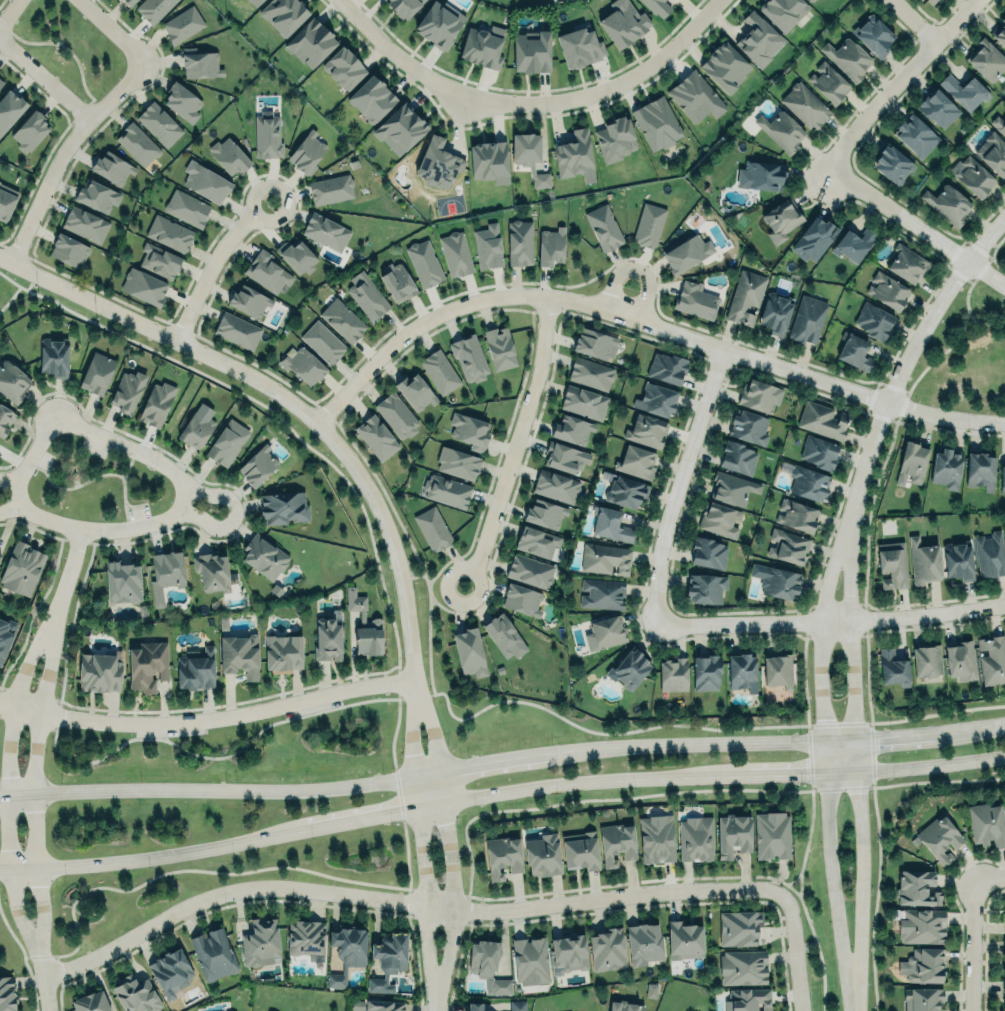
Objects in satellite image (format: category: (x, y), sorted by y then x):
building: (811, 0)
building: (129, 1)
building: (930, 1)
building: (254, 2)
building: (402, 6)
building: (657, 6)
building: (153, 8)
building: (782, 11)
road: (9, 13)
building: (283, 13)
building: (623, 22)
road: (906, 23)
building: (182, 24)
building: (439, 24)
road: (112, 31)
building: (999, 31)
building: (873, 35)
building: (758, 39)
building: (310, 41)
building: (579, 44)
building: (483, 45)
building: (531, 50)
building: (847, 56)
road: (399, 57)
building: (986, 59)
building: (200, 63)
building: (725, 65)
building: (343, 66)
road: (45, 78)
road: (897, 80)
building: (828, 81)
building: (1, 82)
road: (609, 86)
building: (964, 89)
building: (695, 96)
building: (370, 97)
building: (182, 101)
building: (804, 104)
building: (9, 107)
building: (937, 107)
building: (657, 122)
building: (998, 123)
building: (159, 124)
building: (29, 129)
building: (400, 129)
building: (780, 129)
building: (267, 134)
building: (915, 135)
building: (615, 138)
building: (138, 143)
road: (62, 150)
building: (306, 151)
building: (993, 151)
building: (229, 153)
building: (575, 155)
building: (530, 157)
building: (437, 161)
building: (489, 161)
building: (891, 163)
building: (112, 167)
building: (761, 174)
building: (973, 176)
building: (205, 181)
building: (331, 189)
building: (97, 195)
building: (6, 200)
building: (947, 202)
building: (187, 207)
building: (781, 220)
building: (85, 223)
road: (912, 223)
building: (648, 224)
building: (604, 227)
building: (325, 231)
building: (169, 232)
building: (813, 238)
building: (520, 242)
building: (852, 243)
building: (488, 245)
building: (550, 245)
building: (69, 250)
building: (686, 252)
building: (455, 254)
building: (297, 255)
building: (160, 259)
building: (424, 262)
building: (907, 263)
road: (214, 264)
building: (267, 270)
road: (636, 270)
building: (397, 281)
building: (143, 285)
road: (18, 287)
building: (887, 290)
building: (744, 296)
building: (367, 297)
building: (695, 299)
building: (248, 300)
building: (774, 312)
building: (806, 318)
building: (342, 319)
road: (644, 319)
building: (873, 320)
building: (236, 329)
building: (322, 340)
building: (595, 342)
building: (500, 347)
building: (853, 350)
park: (966, 354)
road: (907, 355)
building: (469, 357)
building: (54, 358)
building: (303, 364)
building: (666, 367)
building: (440, 371)
building: (97, 372)
building: (590, 373)
building: (12, 381)
building: (127, 389)
building: (415, 391)
building: (758, 394)
road: (286, 399)
building: (656, 399)
building: (584, 401)
building: (156, 403)
building: (396, 414)
building: (5, 418)
building: (822, 419)
building: (748, 426)
building: (195, 428)
building: (572, 428)
building: (646, 429)
building: (469, 430)
road: (86, 431)
building: (376, 436)
building: (227, 441)
road: (515, 444)
building: (817, 449)
building: (565, 456)
building: (736, 456)
building: (911, 460)
building: (636, 461)
building: (457, 462)
building: (257, 465)
building: (946, 467)
building: (979, 467)
road: (8, 478)
building: (1002, 478)
building: (808, 482)
building: (555, 485)
road: (678, 485)
building: (731, 487)
building: (446, 490)
building: (625, 491)
road: (208, 494)
building: (283, 507)
road: (10, 508)
building: (544, 512)
building: (796, 515)
building: (718, 518)
road: (202, 520)
building: (610, 524)
building: (1004, 525)
building: (432, 528)
road: (97, 529)
building: (536, 540)
building: (788, 545)
building: (708, 553)
building: (989, 554)
building: (1, 555)
building: (264, 557)
building: (605, 558)
building: (958, 560)
building: (923, 561)
building: (891, 565)
building: (21, 568)
building: (211, 570)
building: (530, 571)
building: (165, 574)
road: (66, 576)
building: (122, 581)
building: (779, 581)
road: (430, 582)
building: (705, 587)
building: (602, 593)
building: (521, 598)
building: (375, 621)
road: (830, 621)
road: (818, 626)
road: (849, 628)
building: (605, 632)
building: (501, 633)
building: (5, 636)
building: (327, 639)
building: (469, 651)
building: (282, 653)
building: (239, 654)
building: (959, 658)
building: (992, 660)
building: (926, 661)
building: (146, 664)
building: (195, 667)
building: (629, 668)
building: (892, 668)
building: (777, 669)
building: (705, 671)
building: (742, 671)
building: (99, 672)
building: (672, 673)
road: (494, 702)
road: (208, 719)
road: (985, 725)
road: (893, 737)
road: (683, 744)
road: (857, 755)
road: (479, 762)
road: (931, 762)
road: (782, 772)
road: (915, 781)
road: (574, 782)
road: (6, 785)
road: (33, 786)
road: (206, 789)
building: (1004, 802)
road: (373, 816)
building: (987, 823)
building: (732, 834)
building: (771, 834)
building: (939, 837)
building: (656, 838)
building: (695, 838)
building: (616, 843)
road: (807, 843)
road: (446, 844)
road: (420, 845)
building: (580, 851)
building: (502, 855)
building: (542, 855)
road: (153, 856)
road: (831, 866)
road: (169, 872)
road: (989, 878)
road: (856, 879)
road: (785, 882)
building: (917, 888)
road: (405, 901)
building: (1004, 916)
building: (1004, 921)
building: (921, 925)
building: (738, 927)
building: (305, 937)
building: (683, 939)
building: (260, 942)
building: (643, 943)
road: (970, 945)
building: (1003, 945)
building: (608, 949)
building: (346, 952)
road: (795, 952)
building: (568, 953)
building: (213, 954)
building: (387, 958)
building: (530, 960)
building: (923, 965)
building: (487, 966)
building: (742, 967)
building: (170, 972)
road: (44, 980)
building: (1003, 985)
building: (7, 994)
building: (136, 994)
building: (748, 999)
building: (922, 999)
road: (851, 1000)
building: (90, 1002)
building: (1003, 1003)
building: (383, 1005)
building: (516, 1005)
building: (475, 1006)
building: (624, 1006)
building: (266, 1010)

